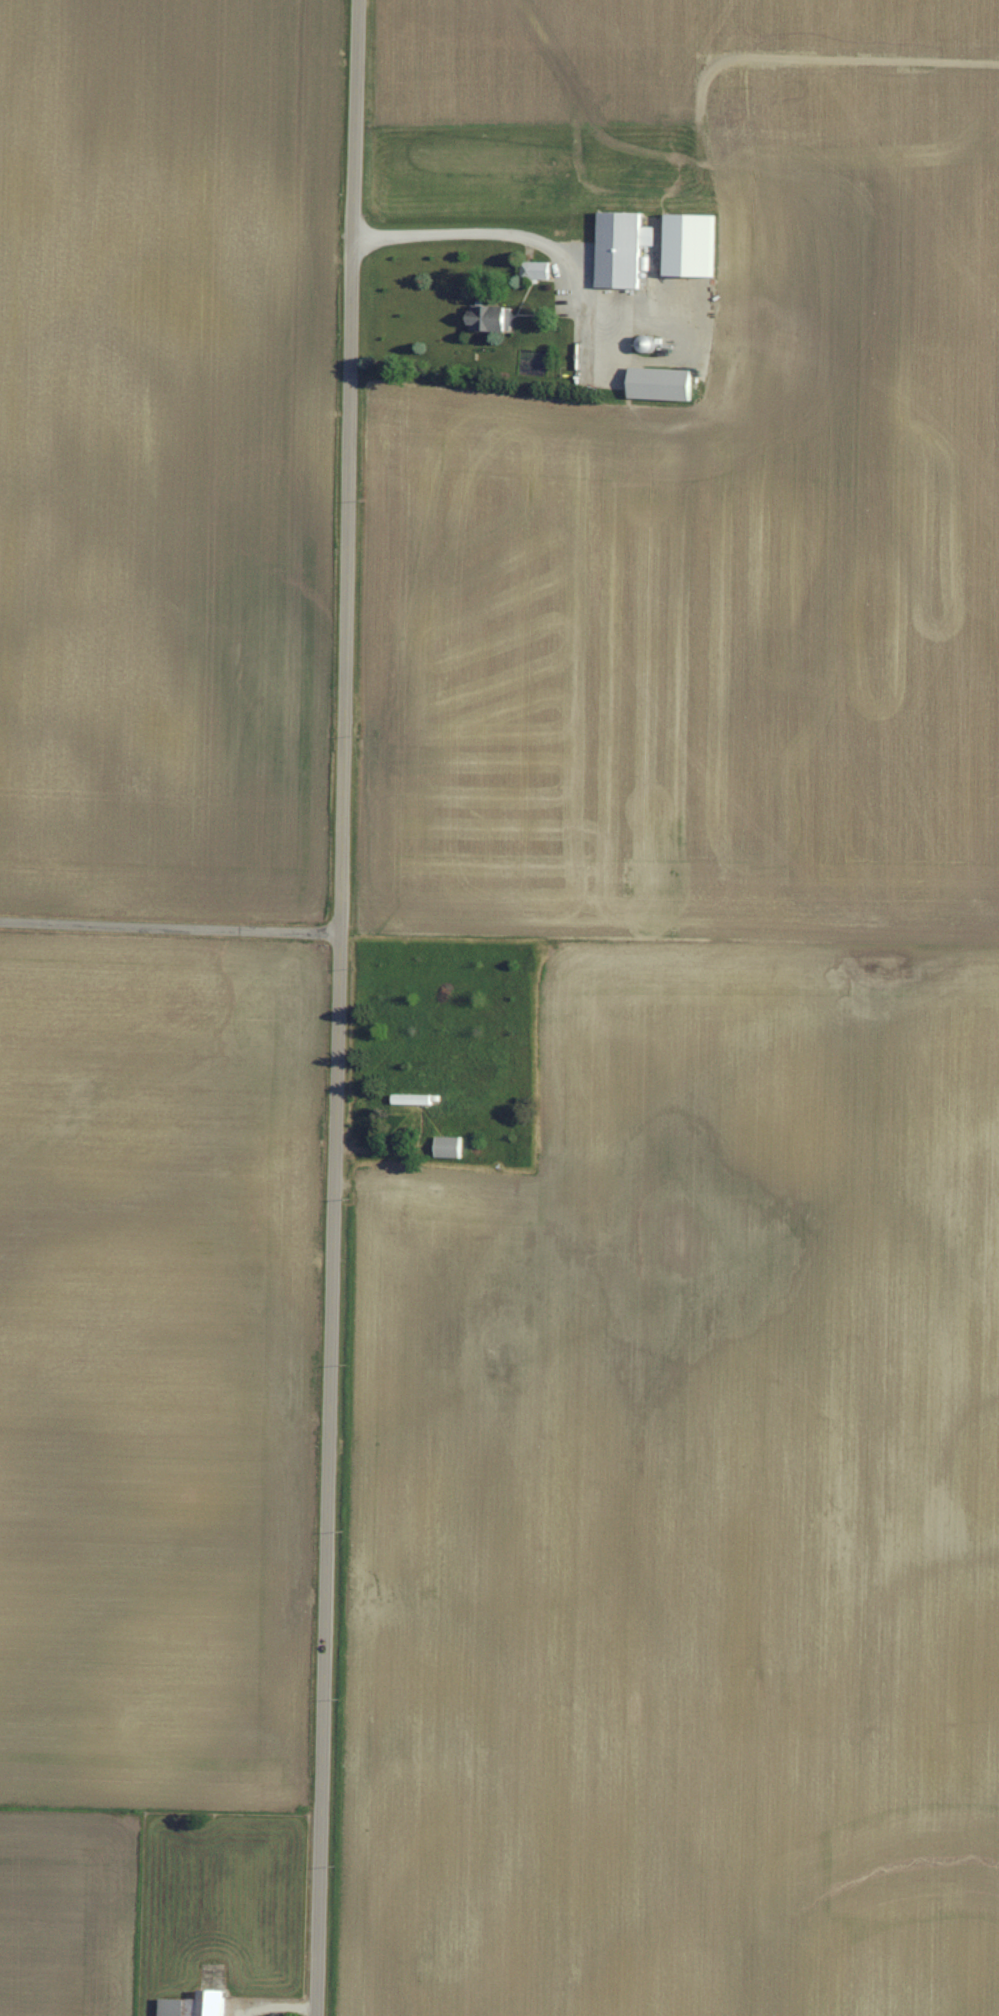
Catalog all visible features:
road: (511, 231)
building: (694, 242)
building: (540, 267)
building: (497, 314)
road: (585, 381)
building: (664, 381)
road: (168, 923)
road: (335, 1008)
building: (198, 2004)
road: (279, 2006)

